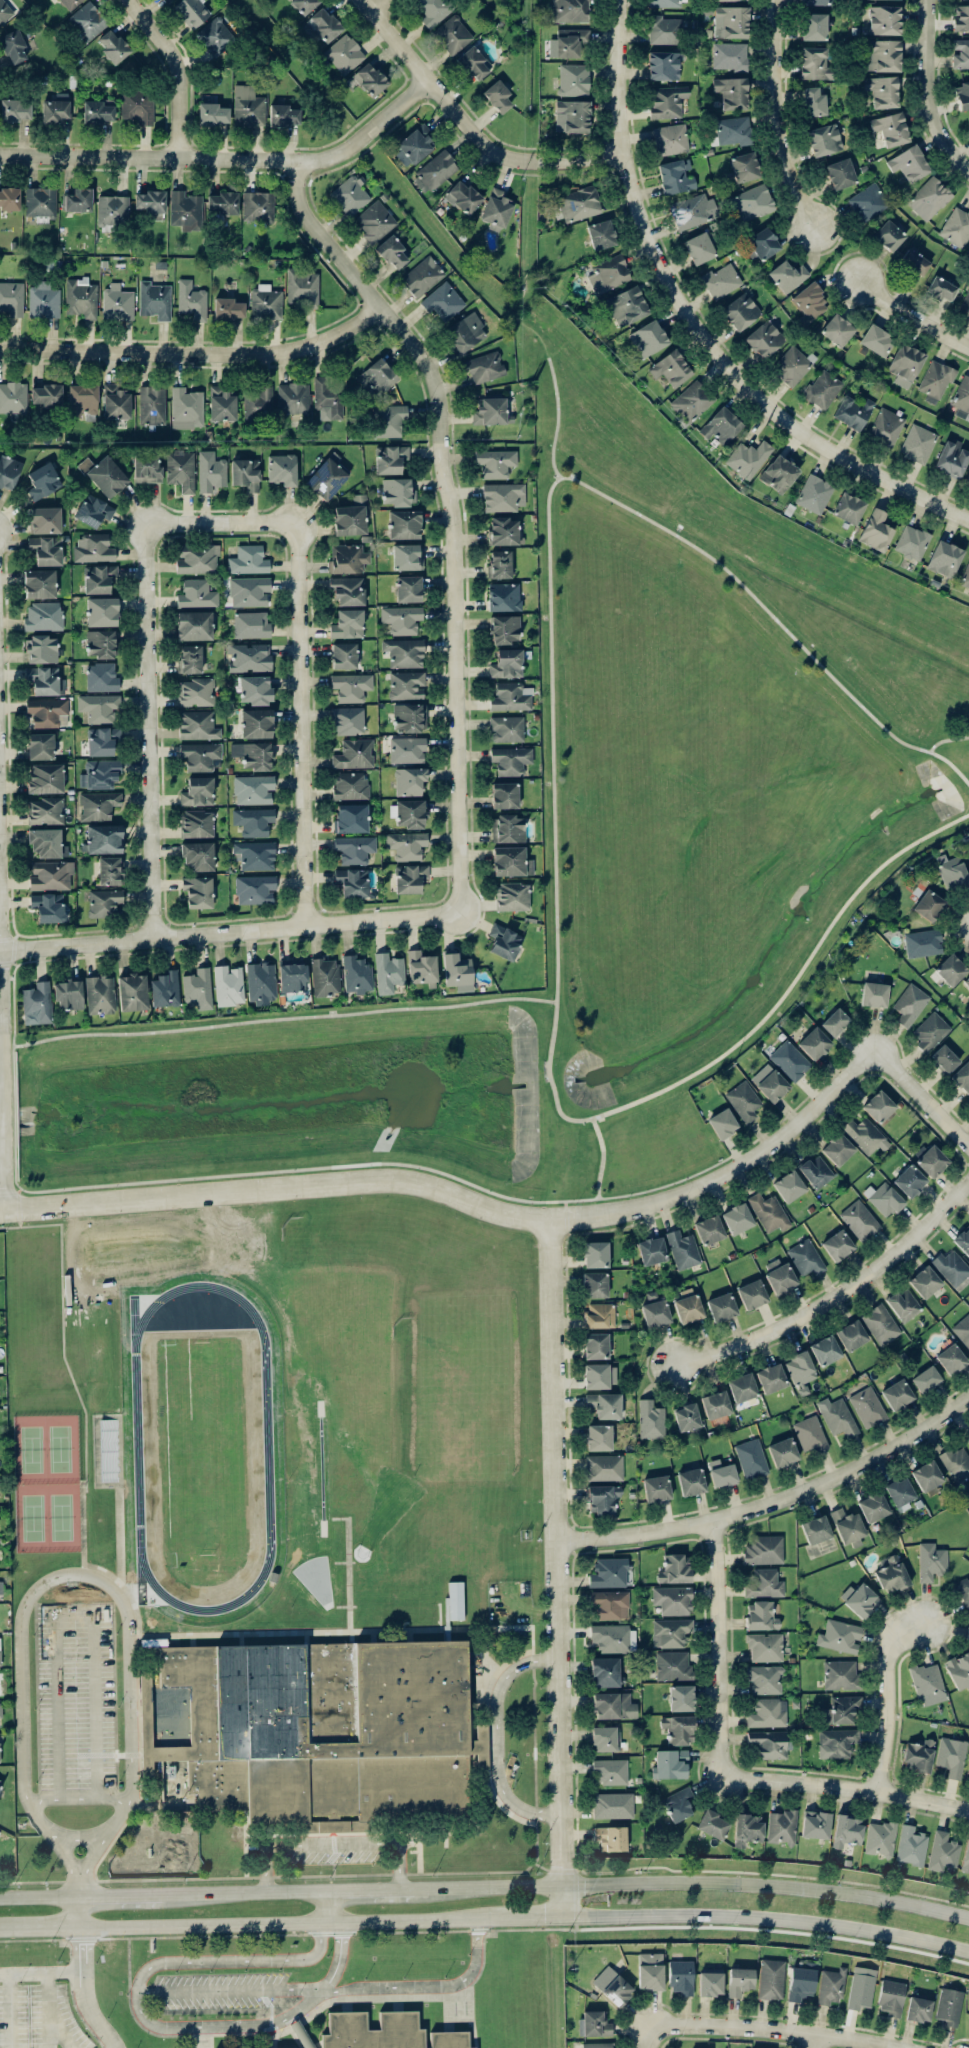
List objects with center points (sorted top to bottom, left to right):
building: (168, 0)
building: (724, 0)
building: (821, 2)
building: (70, 3)
building: (665, 3)
road: (382, 4)
building: (304, 5)
building: (433, 10)
building: (571, 10)
building: (4, 12)
building: (191, 12)
building: (961, 17)
building: (87, 20)
building: (884, 20)
building: (730, 21)
building: (324, 24)
building: (814, 26)
building: (665, 30)
building: (452, 35)
building: (215, 36)
building: (568, 42)
building: (13, 46)
building: (113, 46)
building: (961, 53)
building: (344, 54)
building: (729, 55)
building: (883, 55)
building: (474, 63)
building: (815, 64)
building: (664, 65)
road: (185, 69)
road: (619, 77)
building: (369, 79)
building: (573, 79)
building: (882, 91)
building: (731, 92)
road: (924, 94)
building: (962, 95)
building: (497, 96)
building: (667, 101)
building: (813, 102)
building: (137, 106)
building: (248, 106)
building: (55, 108)
building: (15, 109)
building: (97, 112)
building: (213, 114)
building: (283, 115)
road: (778, 115)
building: (572, 116)
road: (474, 122)
building: (891, 128)
building: (733, 130)
building: (670, 139)
building: (823, 139)
building: (413, 146)
road: (231, 157)
building: (909, 163)
building: (744, 166)
building: (437, 169)
building: (840, 173)
building: (676, 176)
building: (350, 195)
building: (463, 197)
building: (929, 198)
building: (9, 199)
building: (78, 199)
building: (40, 202)
building: (751, 202)
building: (868, 202)
building: (151, 203)
building: (223, 203)
building: (576, 204)
building: (258, 206)
building: (113, 209)
building: (496, 209)
building: (185, 210)
building: (693, 210)
building: (375, 221)
building: (956, 227)
building: (600, 234)
building: (888, 235)
building: (761, 243)
building: (699, 248)
building: (393, 252)
building: (917, 263)
building: (607, 274)
building: (787, 275)
building: (422, 276)
building: (721, 280)
building: (301, 288)
building: (941, 289)
building: (12, 298)
building: (81, 298)
building: (43, 300)
building: (155, 300)
building: (191, 300)
building: (443, 301)
building: (265, 302)
building: (809, 302)
building: (117, 303)
building: (965, 305)
building: (626, 306)
building: (228, 309)
building: (740, 311)
road: (913, 317)
building: (837, 329)
building: (466, 332)
building: (648, 338)
building: (764, 339)
building: (876, 340)
road: (199, 351)
building: (791, 364)
building: (905, 364)
building: (484, 367)
building: (670, 368)
building: (935, 381)
road: (742, 384)
building: (822, 389)
building: (46, 395)
building: (13, 397)
building: (328, 397)
building: (962, 397)
building: (292, 398)
building: (82, 401)
building: (692, 401)
building: (115, 402)
building: (221, 404)
building: (257, 404)
building: (152, 405)
building: (186, 408)
building: (489, 411)
building: (853, 411)
road: (556, 419)
building: (389, 420)
building: (720, 426)
building: (885, 427)
building: (918, 444)
building: (748, 458)
building: (951, 458)
building: (390, 459)
building: (495, 463)
building: (147, 467)
building: (180, 469)
building: (282, 469)
building: (9, 471)
building: (210, 471)
building: (245, 473)
building: (779, 473)
building: (104, 475)
building: (326, 477)
building: (43, 480)
building: (967, 481)
building: (396, 492)
building: (814, 493)
building: (503, 497)
building: (848, 508)
building: (94, 510)
road: (446, 511)
building: (351, 517)
road: (221, 518)
building: (44, 520)
building: (404, 524)
building: (875, 530)
building: (505, 531)
building: (912, 542)
building: (93, 548)
building: (46, 550)
building: (406, 556)
building: (197, 558)
building: (347, 558)
building: (944, 558)
building: (248, 560)
building: (499, 564)
building: (965, 576)
building: (98, 578)
building: (39, 583)
building: (408, 589)
building: (348, 590)
building: (249, 591)
building: (197, 594)
building: (503, 596)
building: (101, 611)
building: (43, 616)
building: (401, 619)
building: (347, 624)
building: (194, 625)
building: (251, 625)
building: (504, 629)
building: (100, 643)
building: (41, 649)
building: (404, 652)
building: (344, 655)
building: (249, 657)
building: (190, 659)
building: (507, 663)
building: (102, 677)
building: (45, 680)
building: (406, 685)
building: (351, 686)
building: (255, 689)
building: (195, 691)
building: (511, 696)
building: (99, 707)
building: (46, 711)
building: (409, 717)
building: (348, 720)
road: (306, 721)
building: (256, 723)
building: (198, 725)
road: (150, 726)
building: (507, 728)
building: (101, 740)
road: (946, 741)
building: (40, 746)
building: (407, 749)
building: (254, 754)
building: (354, 754)
building: (200, 755)
building: (511, 760)
building: (99, 773)
building: (45, 778)
building: (409, 781)
building: (350, 785)
river: (950, 788)
building: (253, 789)
building: (198, 791)
building: (504, 795)
road: (552, 801)
building: (99, 805)
building: (45, 811)
building: (408, 813)
building: (351, 818)
building: (253, 821)
building: (197, 823)
building: (507, 828)
building: (104, 838)
building: (47, 843)
building: (406, 845)
building: (354, 849)
building: (255, 854)
building: (198, 855)
building: (511, 861)
building: (109, 870)
building: (951, 871)
building: (50, 875)
building: (410, 878)
building: (353, 882)
building: (255, 889)
building: (197, 891)
building: (512, 896)
building: (103, 902)
building: (928, 905)
building: (48, 907)
road: (227, 930)
building: (504, 941)
building: (923, 942)
river: (769, 957)
building: (421, 968)
building: (950, 969)
building: (457, 971)
building: (388, 972)
building: (357, 974)
building: (292, 975)
building: (325, 976)
building: (261, 982)
building: (966, 982)
building: (228, 985)
building: (165, 989)
building: (197, 989)
building: (132, 992)
building: (68, 994)
building: (100, 994)
building: (874, 994)
building: (38, 1002)
building: (910, 1004)
road: (277, 1020)
building: (835, 1022)
building: (930, 1031)
building: (814, 1043)
building: (944, 1058)
building: (790, 1060)
building: (962, 1077)
river: (546, 1082)
building: (769, 1082)
building: (743, 1100)
road: (921, 1100)
river: (270, 1104)
building: (878, 1106)
road: (2, 1110)
river: (12, 1123)
building: (722, 1123)
building: (865, 1135)
building: (838, 1149)
road: (603, 1157)
building: (931, 1160)
road: (389, 1161)
building: (816, 1171)
road: (730, 1174)
building: (909, 1180)
road: (278, 1186)
building: (789, 1186)
building: (884, 1198)
road: (19, 1208)
road: (566, 1210)
building: (769, 1212)
building: (737, 1218)
building: (859, 1220)
road: (30, 1224)
building: (708, 1229)
building: (963, 1240)
building: (837, 1245)
building: (683, 1249)
building: (651, 1250)
building: (595, 1254)
building: (805, 1257)
building: (951, 1266)
building: (778, 1275)
building: (924, 1281)
building: (594, 1284)
building: (752, 1294)
road: (836, 1295)
building: (903, 1304)
building: (687, 1305)
building: (721, 1306)
building: (655, 1313)
building: (599, 1315)
building: (880, 1323)
building: (962, 1329)
building: (851, 1335)
building: (596, 1345)
building: (825, 1350)
building: (950, 1356)
building: (800, 1368)
building: (600, 1375)
building: (771, 1378)
building: (926, 1379)
building: (742, 1387)
building: (897, 1394)
road: (81, 1399)
building: (716, 1404)
building: (605, 1405)
building: (867, 1406)
building: (686, 1416)
building: (838, 1418)
building: (651, 1420)
building: (810, 1433)
building: (599, 1437)
building: (967, 1437)
stadium: (198, 1445)
park: (203, 1448)
building: (783, 1452)
building: (751, 1458)
building: (956, 1463)
building: (604, 1467)
building: (721, 1473)
building: (927, 1475)
park: (47, 1481)
building: (691, 1481)
building: (656, 1488)
building: (900, 1493)
building: (602, 1498)
road: (773, 1503)
building: (873, 1506)
building: (847, 1525)
building: (816, 1529)
building: (764, 1549)
building: (931, 1561)
building: (674, 1569)
road: (557, 1570)
building: (609, 1573)
building: (892, 1575)
building: (764, 1583)
building: (1, 1586)
building: (962, 1589)
building: (859, 1598)
building: (672, 1599)
building: (455, 1600)
road: (76, 1604)
building: (610, 1604)
building: (760, 1615)
building: (670, 1632)
building: (968, 1633)
building: (840, 1636)
building: (613, 1638)
road: (718, 1647)
building: (765, 1647)
building: (0, 1653)
building: (673, 1665)
building: (959, 1669)
building: (604, 1672)
building: (840, 1674)
building: (765, 1678)
building: (927, 1680)
road: (21, 1696)
building: (681, 1698)
road: (888, 1698)
parking lot: (78, 1701)
road: (131, 1704)
building: (613, 1705)
building: (0, 1709)
building: (841, 1709)
building: (768, 1713)
building: (323, 1728)
building: (678, 1729)
road: (497, 1739)
building: (605, 1739)
building: (836, 1742)
building: (769, 1743)
building: (919, 1755)
building: (951, 1756)
building: (670, 1763)
building: (610, 1771)
building: (968, 1771)
road: (848, 1788)
road: (79, 1799)
building: (678, 1803)
building: (613, 1805)
building: (713, 1824)
building: (815, 1824)
building: (781, 1826)
building: (747, 1829)
building: (846, 1830)
building: (611, 1837)
building: (880, 1838)
road: (330, 1843)
building: (911, 1845)
building: (943, 1851)
building: (965, 1858)
road: (87, 1861)
road: (78, 1880)
road: (568, 1886)
road: (121, 1896)
road: (38, 1897)
road: (328, 1907)
road: (77, 1913)
road: (526, 1918)
road: (767, 1918)
road: (283, 1924)
road: (38, 1930)
building: (650, 1970)
road: (40, 1971)
building: (681, 1976)
building: (771, 1978)
building: (739, 1980)
building: (801, 1981)
building: (710, 1983)
building: (831, 1985)
building: (614, 1987)
building: (861, 1987)
road: (83, 1993)
road: (334, 1993)
building: (891, 1997)
building: (949, 2006)
building: (918, 2008)
road: (48, 2009)
road: (10, 2010)
road: (147, 2023)
building: (595, 2024)
road: (60, 2031)
road: (771, 2032)
building: (398, 2034)
road: (649, 2040)
road: (814, 2041)
building: (597, 2045)

